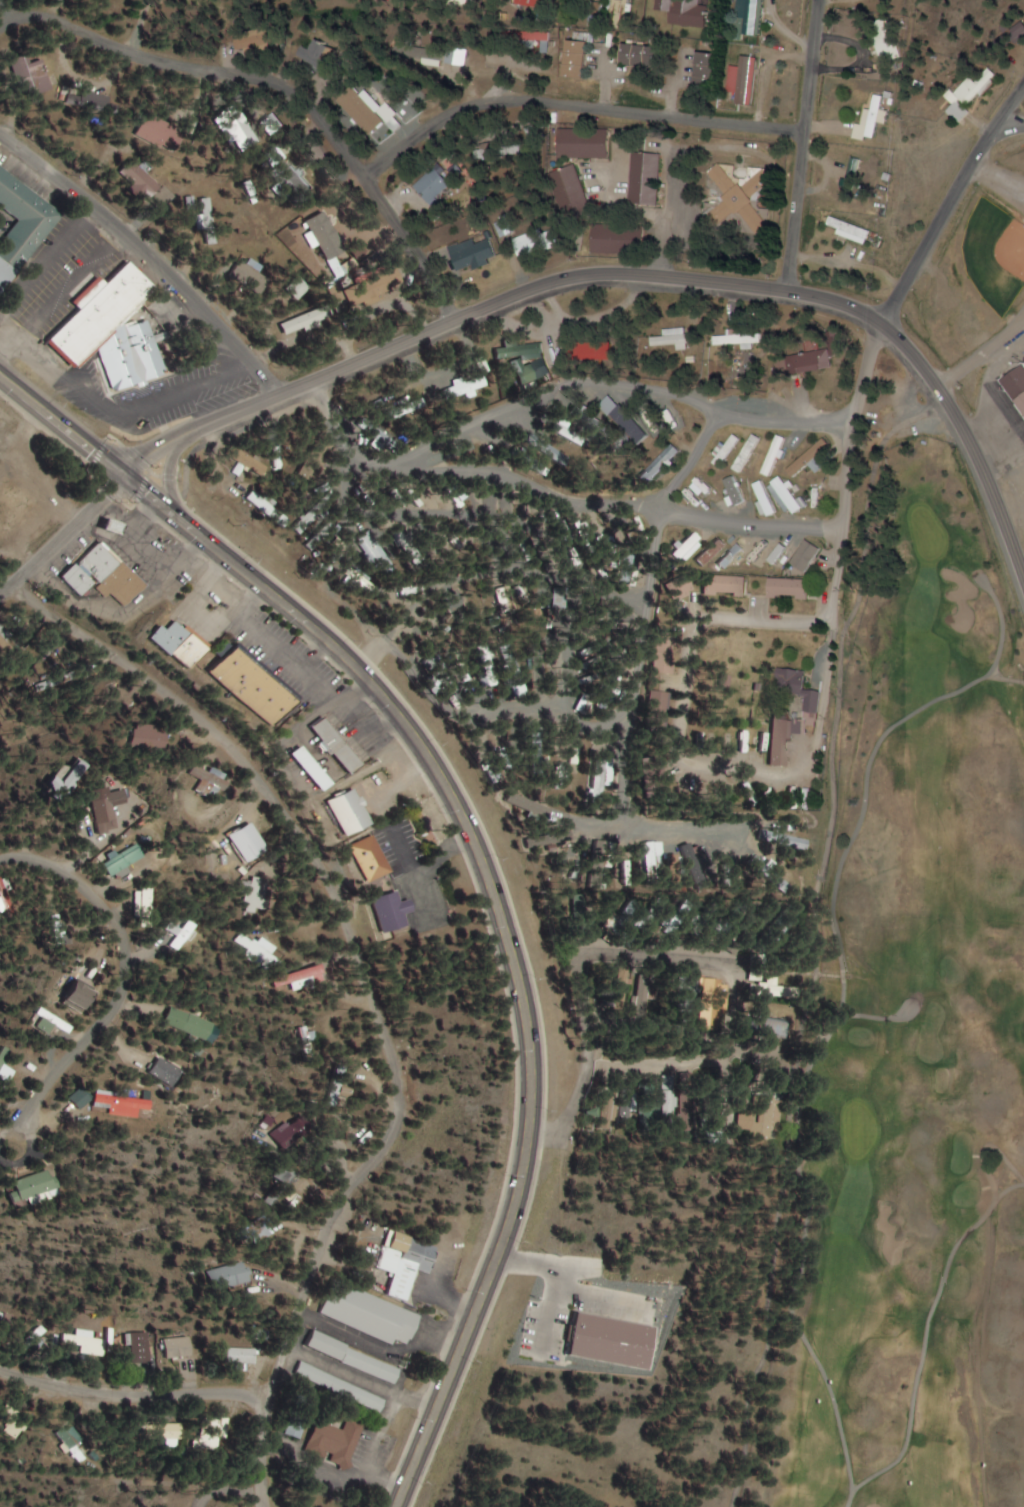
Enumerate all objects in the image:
building: (474, 1)
building: (540, 3)
building: (620, 5)
building: (688, 12)
building: (752, 17)
building: (546, 37)
building: (888, 49)
building: (319, 55)
building: (457, 56)
building: (646, 56)
building: (581, 59)
building: (710, 72)
building: (32, 76)
building: (747, 77)
road: (277, 85)
building: (967, 96)
building: (89, 101)
road: (573, 107)
building: (379, 111)
road: (1012, 121)
building: (161, 133)
building: (586, 144)
road: (801, 145)
building: (504, 152)
building: (282, 175)
building: (859, 176)
building: (649, 180)
building: (149, 186)
building: (436, 187)
building: (575, 191)
building: (742, 197)
road: (951, 204)
building: (207, 221)
building: (21, 228)
building: (851, 230)
building: (334, 231)
building: (621, 240)
building: (534, 243)
road: (148, 254)
park: (995, 254)
building: (474, 255)
park: (974, 270)
road: (632, 277)
building: (299, 289)
road: (530, 300)
building: (308, 321)
building: (115, 328)
building: (741, 337)
building: (672, 339)
building: (510, 348)
building: (600, 354)
building: (818, 360)
building: (466, 386)
building: (1015, 386)
building: (413, 406)
building: (658, 418)
road: (845, 418)
building: (609, 428)
building: (569, 432)
building: (375, 438)
building: (554, 454)
building: (775, 455)
building: (815, 457)
building: (444, 458)
building: (662, 461)
building: (310, 464)
traffic signals: (122, 469)
road: (172, 480)
building: (791, 497)
road: (724, 498)
building: (764, 498)
road: (984, 499)
building: (14, 507)
building: (311, 513)
building: (112, 524)
gas station: (112, 524)
road: (61, 530)
building: (682, 552)
building: (784, 554)
building: (808, 555)
building: (629, 569)
building: (106, 575)
building: (726, 585)
building: (683, 587)
building: (789, 588)
road: (1001, 626)
building: (184, 648)
building: (666, 653)
building: (253, 686)
building: (660, 705)
building: (781, 717)
building: (147, 737)
building: (336, 743)
building: (314, 767)
building: (600, 775)
building: (212, 781)
building: (350, 810)
building: (104, 814)
building: (251, 838)
building: (783, 841)
road: (481, 852)
building: (655, 855)
building: (373, 858)
building: (125, 859)
building: (694, 867)
building: (777, 881)
building: (395, 911)
building: (673, 923)
road: (352, 928)
road: (815, 937)
building: (258, 947)
building: (733, 947)
road: (125, 974)
building: (304, 978)
building: (624, 982)
building: (692, 985)
building: (777, 990)
building: (648, 992)
building: (714, 1006)
road: (874, 1019)
building: (57, 1022)
building: (189, 1023)
building: (776, 1028)
park: (909, 1034)
building: (306, 1035)
road: (830, 1035)
building: (4, 1057)
building: (165, 1071)
building: (673, 1092)
building: (344, 1096)
building: (82, 1098)
building: (122, 1102)
building: (620, 1109)
building: (690, 1109)
building: (761, 1118)
building: (298, 1130)
road: (984, 1149)
building: (287, 1177)
building: (40, 1185)
building: (409, 1262)
building: (236, 1276)
building: (374, 1314)
road: (926, 1340)
building: (90, 1345)
building: (180, 1347)
building: (243, 1356)
building: (357, 1358)
building: (343, 1387)
road: (133, 1395)
building: (298, 1426)
building: (170, 1431)
building: (215, 1432)
building: (337, 1442)
building: (76, 1445)
road: (263, 1450)

